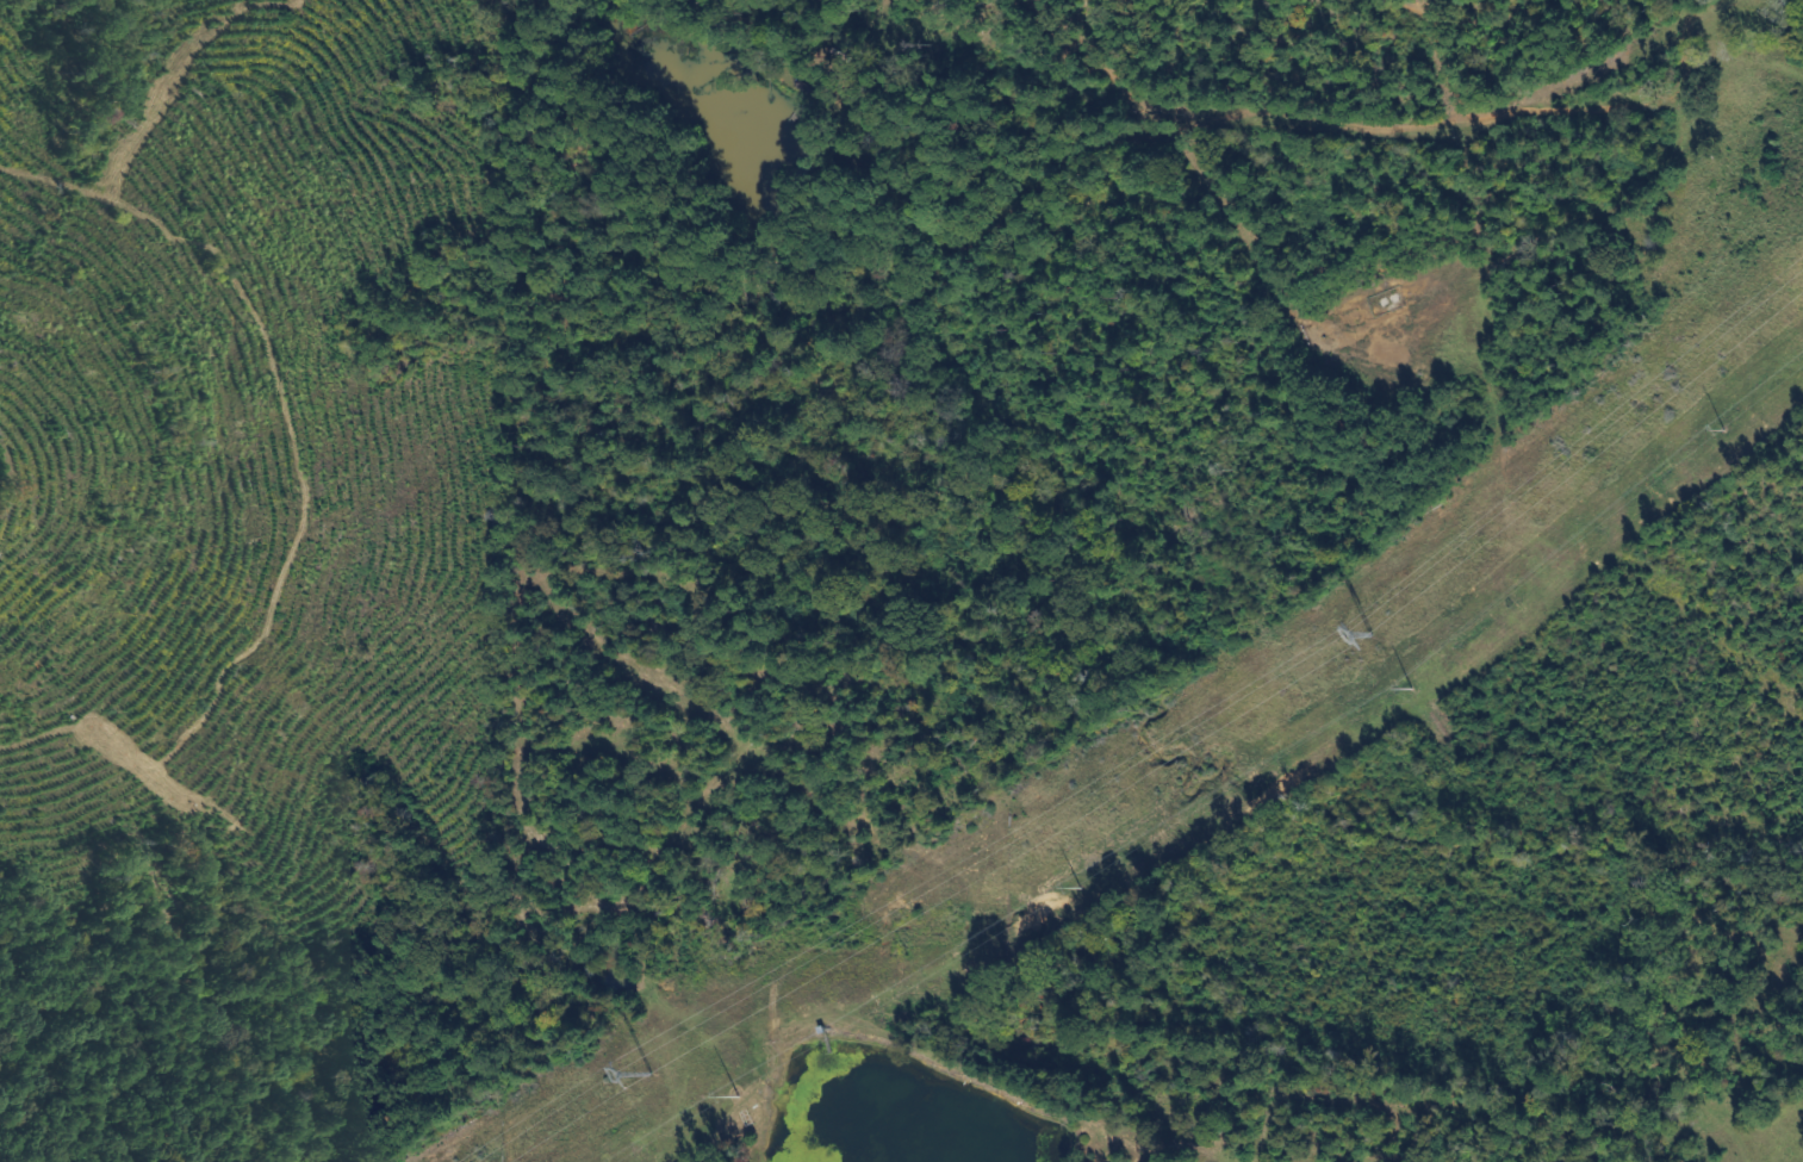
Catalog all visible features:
road: (1348, 136)
power tower: (1369, 635)
power tower: (651, 1074)

